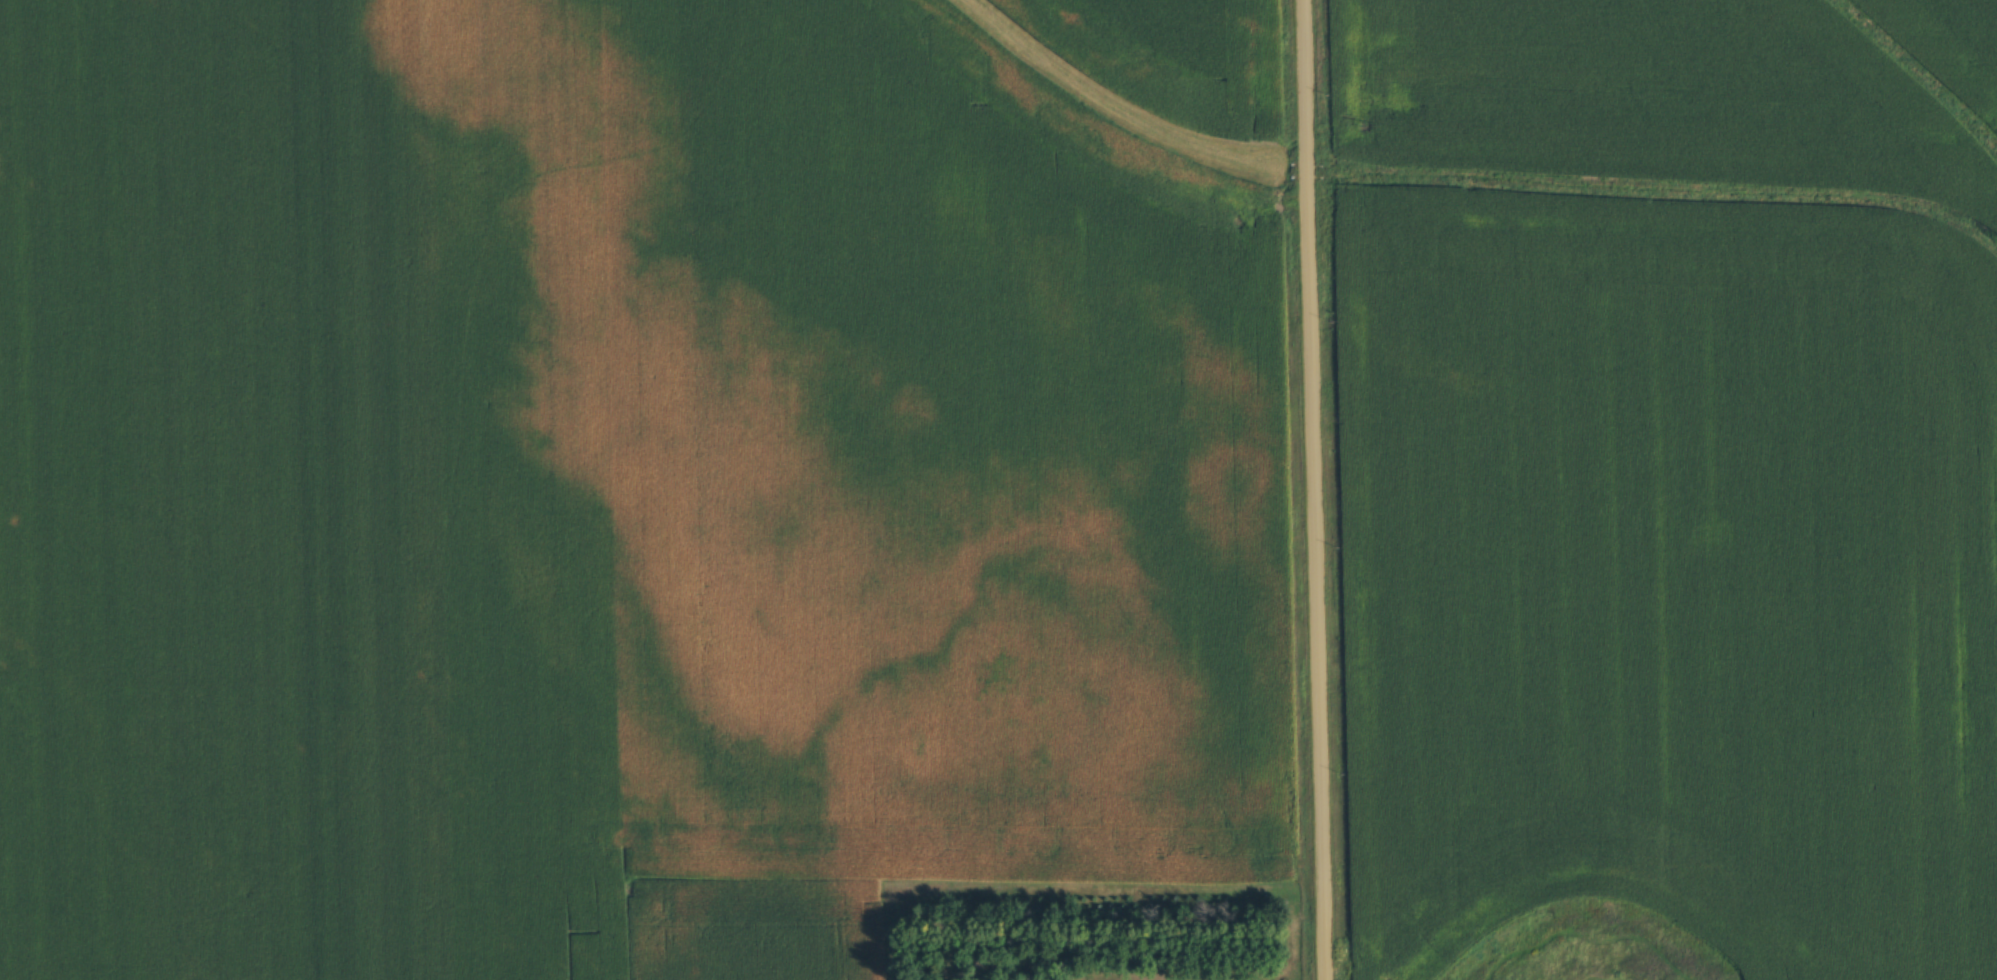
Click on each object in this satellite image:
road: (1313, 490)
crop: (1672, 580)

